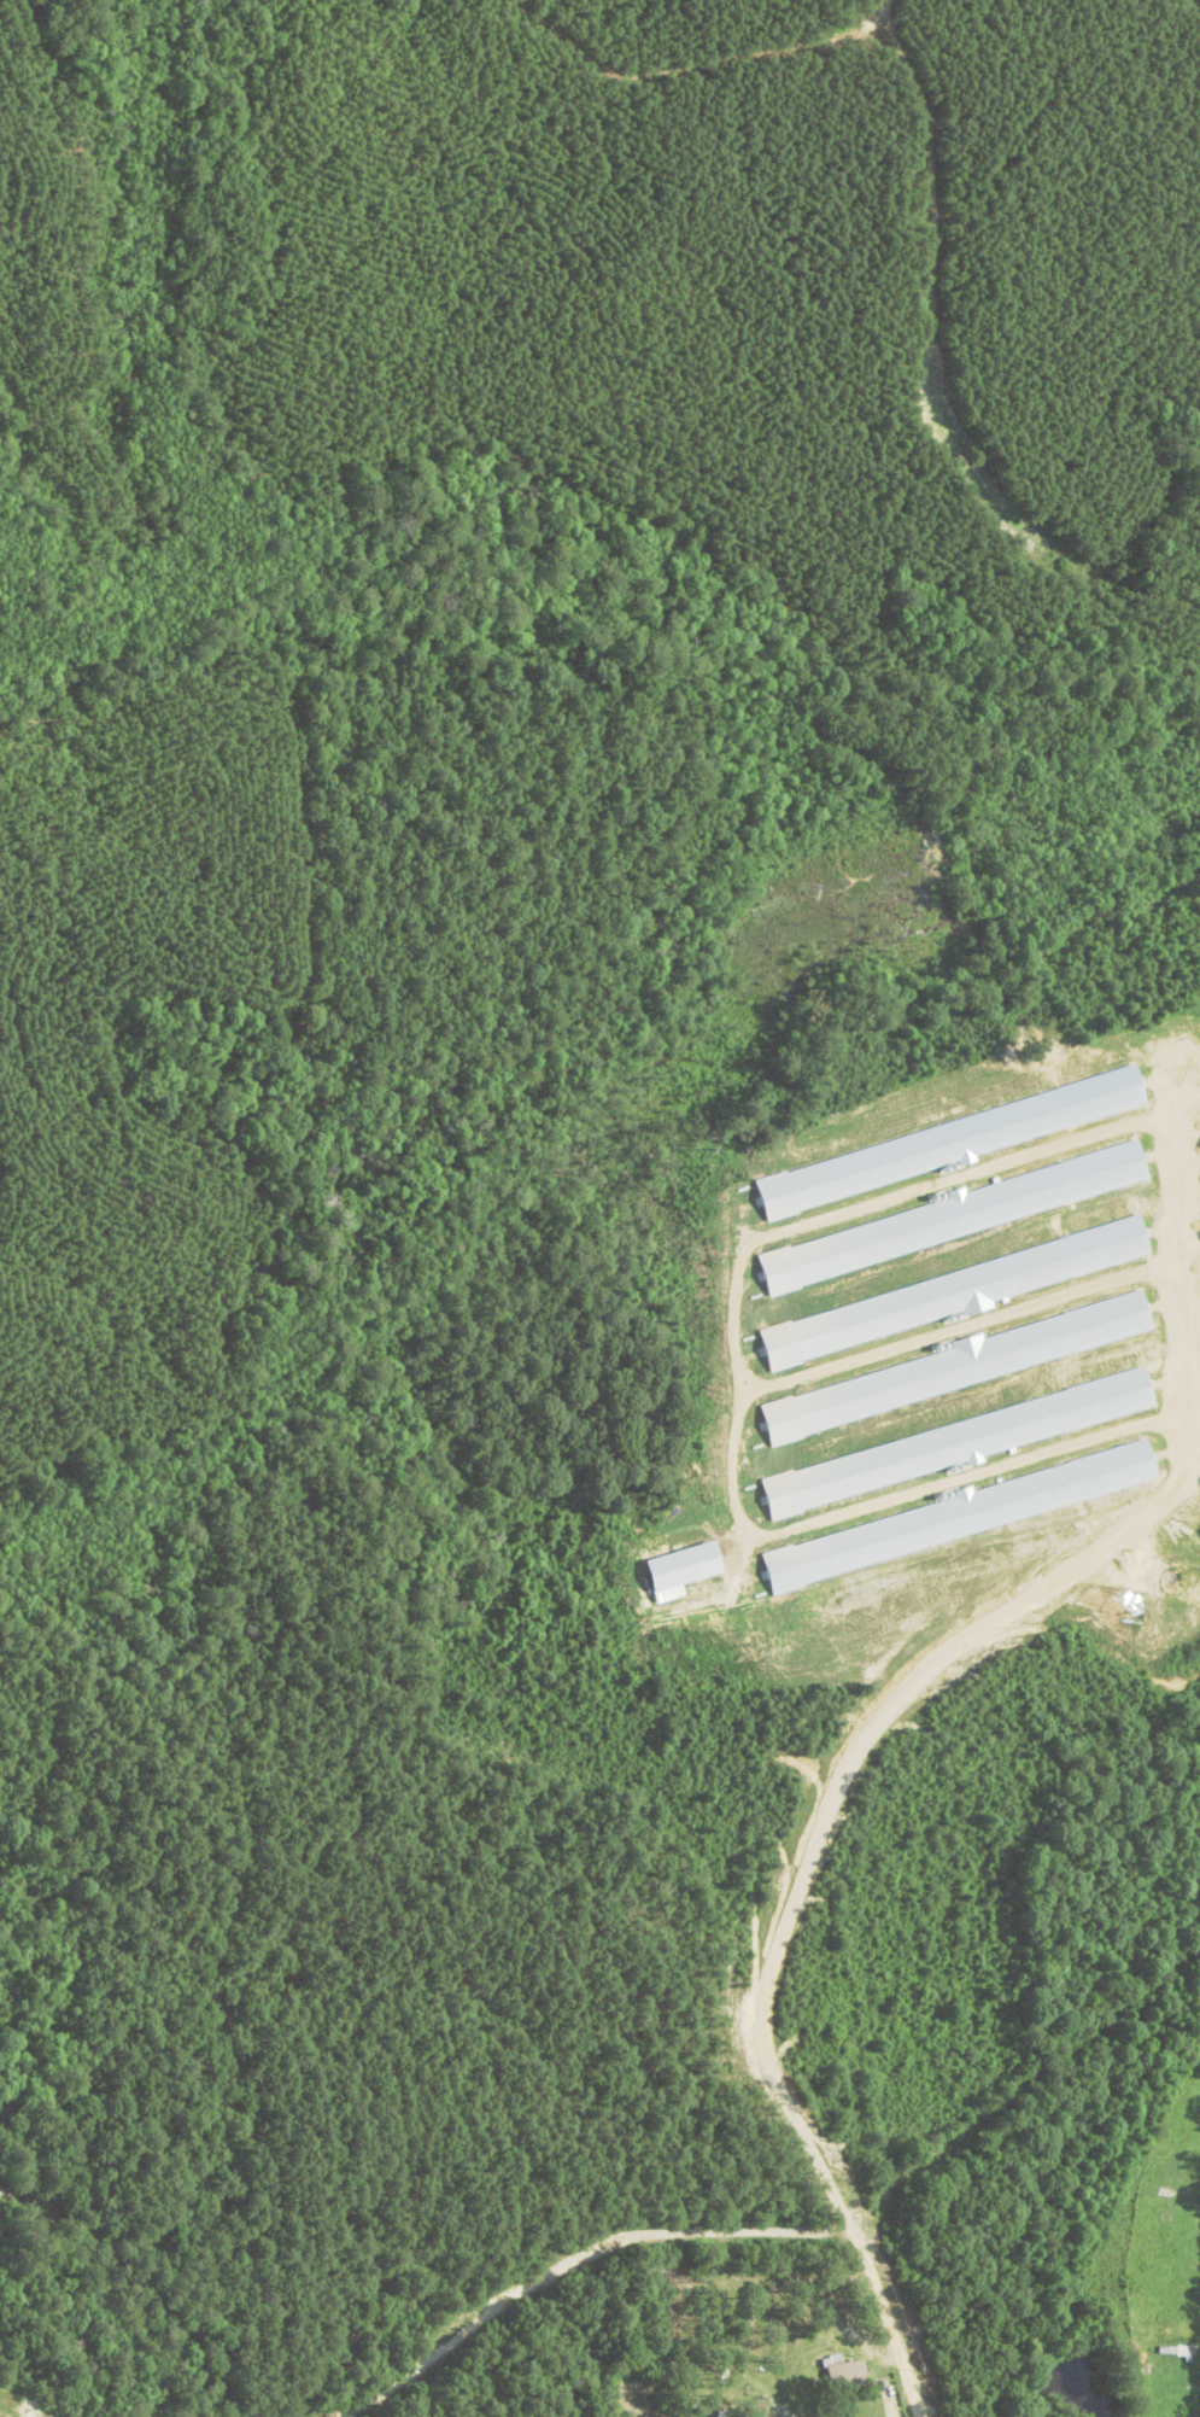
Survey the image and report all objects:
road: (886, 1645)
road: (453, 2224)
building: (844, 2372)

